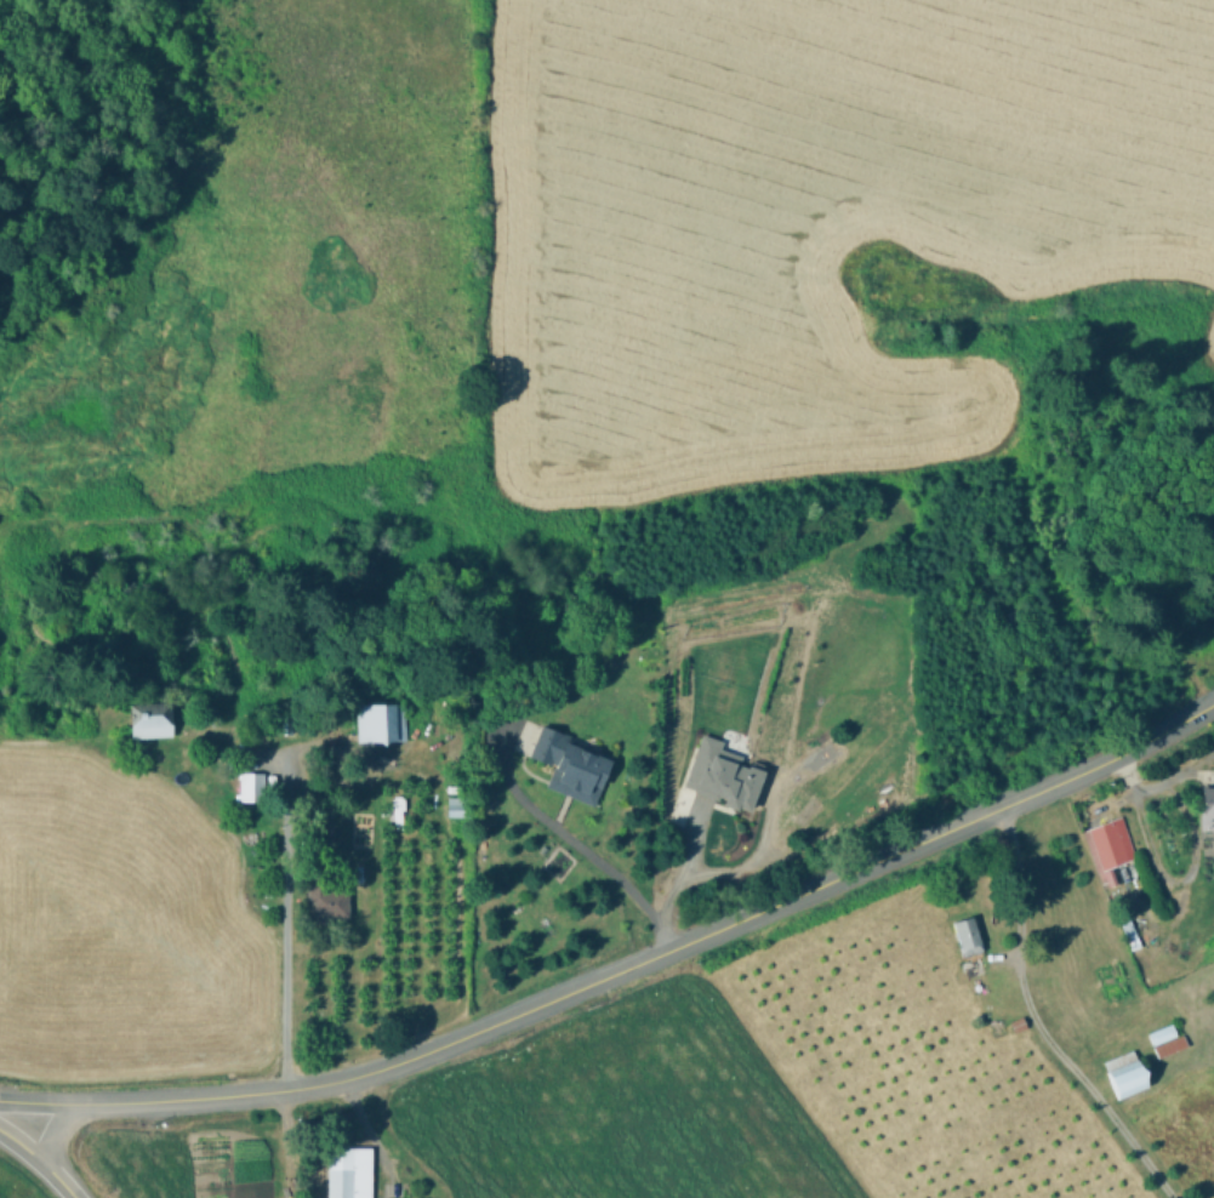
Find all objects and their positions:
building: (150, 723)
building: (381, 724)
road: (1072, 775)
road: (1156, 780)
building: (250, 786)
building: (1208, 806)
building: (1107, 845)
road: (1150, 845)
road: (571, 850)
building: (327, 903)
road: (278, 926)
building: (968, 937)
road: (1037, 1022)
crop: (976, 1026)
road: (477, 1031)
building: (1165, 1042)
building: (1125, 1076)
road: (49, 1134)
road: (22, 1148)
building: (348, 1171)
road: (59, 1182)

